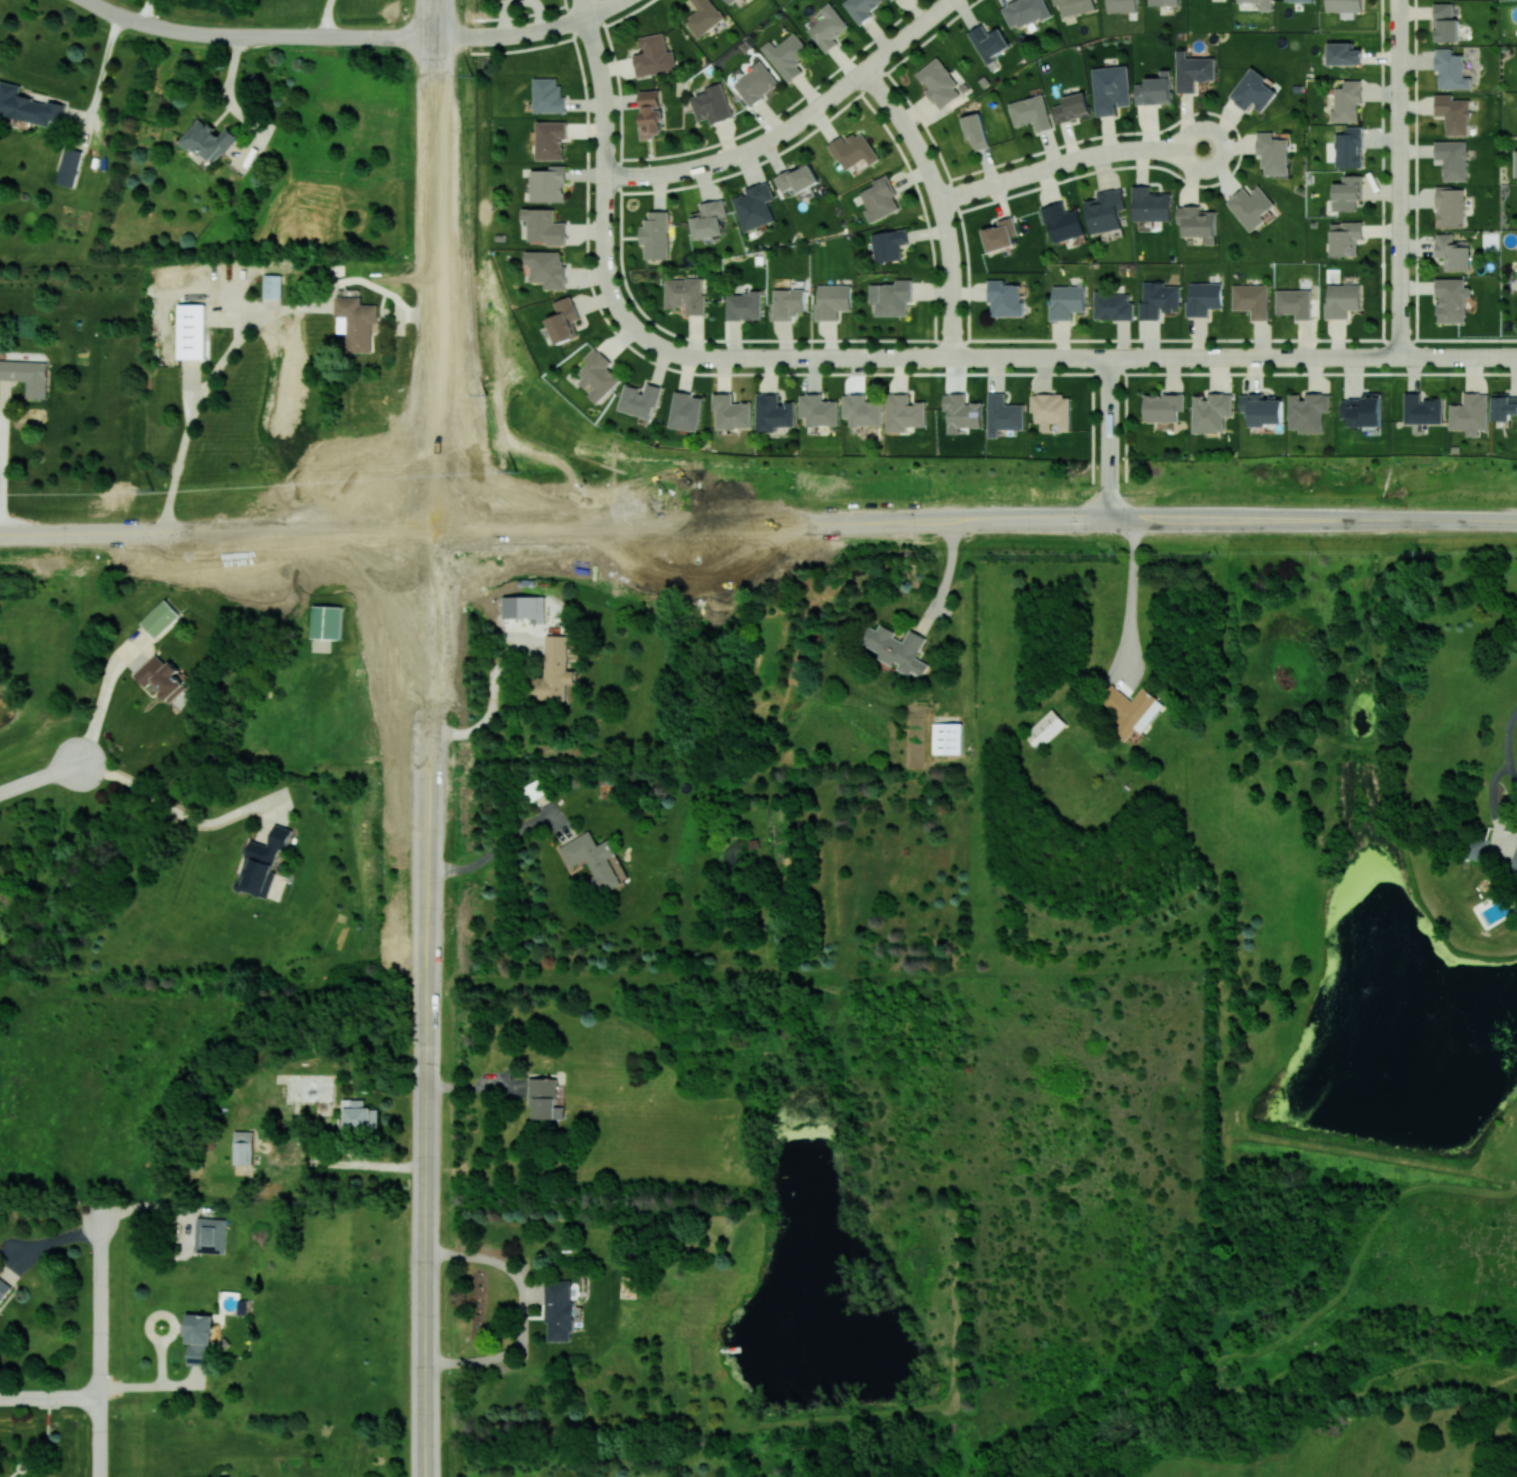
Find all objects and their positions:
building: (1297, 0)
building: (731, 1)
building: (1165, 2)
building: (1261, 3)
building: (1122, 5)
building: (1075, 6)
building: (1343, 7)
road: (584, 8)
building: (860, 8)
road: (145, 10)
building: (1024, 12)
road: (325, 17)
building: (703, 17)
road: (439, 18)
building: (1446, 22)
road: (556, 26)
building: (828, 27)
road: (238, 35)
road: (435, 36)
road: (481, 36)
building: (989, 42)
building: (1343, 54)
building: (654, 55)
building: (787, 55)
road: (101, 67)
building: (1451, 69)
building: (1193, 71)
power tower: (472, 76)
building: (756, 83)
building: (939, 83)
building: (1111, 89)
building: (1155, 89)
building: (1252, 91)
building: (548, 95)
building: (1346, 101)
building: (711, 104)
building: (28, 106)
building: (1072, 107)
building: (1031, 112)
building: (650, 113)
building: (1453, 113)
road: (795, 124)
building: (976, 130)
building: (551, 139)
building: (209, 141)
building: (1348, 147)
building: (853, 150)
building: (1273, 153)
building: (1453, 159)
road: (1069, 162)
building: (1516, 164)
building: (69, 166)
road: (1415, 169)
building: (797, 178)
road: (1400, 178)
road: (605, 183)
building: (548, 184)
building: (1347, 193)
building: (880, 199)
road: (940, 203)
building: (1151, 204)
building: (755, 206)
building: (1251, 206)
building: (1450, 206)
building: (1106, 210)
building: (709, 219)
building: (1063, 222)
building: (1198, 222)
building: (544, 225)
building: (655, 234)
building: (1000, 234)
building: (1345, 238)
building: (888, 244)
building: (1453, 252)
park: (483, 258)
road: (432, 259)
road: (451, 266)
building: (547, 268)
building: (272, 286)
building: (685, 294)
building: (891, 297)
building: (1203, 297)
building: (1005, 298)
building: (1158, 299)
building: (1252, 299)
building: (1341, 299)
building: (1451, 299)
building: (832, 300)
building: (1066, 301)
building: (787, 303)
building: (1294, 303)
building: (744, 305)
building: (1113, 306)
building: (564, 320)
building: (356, 322)
building: (191, 331)
road: (245, 334)
road: (1080, 357)
building: (27, 375)
building: (598, 375)
power tower: (495, 392)
building: (640, 399)
building: (1163, 406)
building: (1504, 406)
building: (1262, 409)
building: (1363, 409)
building: (1422, 409)
building: (819, 410)
building: (862, 410)
building: (686, 411)
building: (1051, 411)
building: (1212, 411)
building: (1308, 411)
building: (732, 412)
building: (774, 412)
building: (904, 412)
building: (962, 412)
building: (1470, 413)
building: (1004, 414)
road: (1107, 437)
road: (2, 456)
power tower: (524, 470)
power tower: (153, 490)
road: (679, 518)
road: (1234, 518)
road: (920, 524)
road: (675, 539)
road: (396, 542)
road: (946, 579)
road: (1132, 601)
building: (526, 607)
building: (160, 618)
building: (326, 621)
road: (418, 642)
road: (434, 644)
building: (897, 649)
building: (554, 670)
building: (161, 677)
road: (105, 696)
road: (493, 700)
building: (1131, 710)
building: (1045, 729)
building: (947, 738)
road: (1509, 747)
road: (39, 777)
building: (535, 790)
road: (178, 809)
road: (497, 848)
building: (1477, 848)
road: (437, 857)
building: (593, 860)
building: (262, 862)
building: (1515, 863)
road: (477, 1086)
road: (427, 1095)
building: (544, 1098)
building: (360, 1114)
building: (243, 1147)
dam: (1372, 1156)
road: (319, 1163)
road: (368, 1164)
building: (211, 1235)
building: (3, 1289)
road: (523, 1309)
building: (558, 1309)
road: (173, 1323)
building: (199, 1339)
road: (97, 1344)
road: (423, 1344)
road: (152, 1385)
road: (49, 1397)

